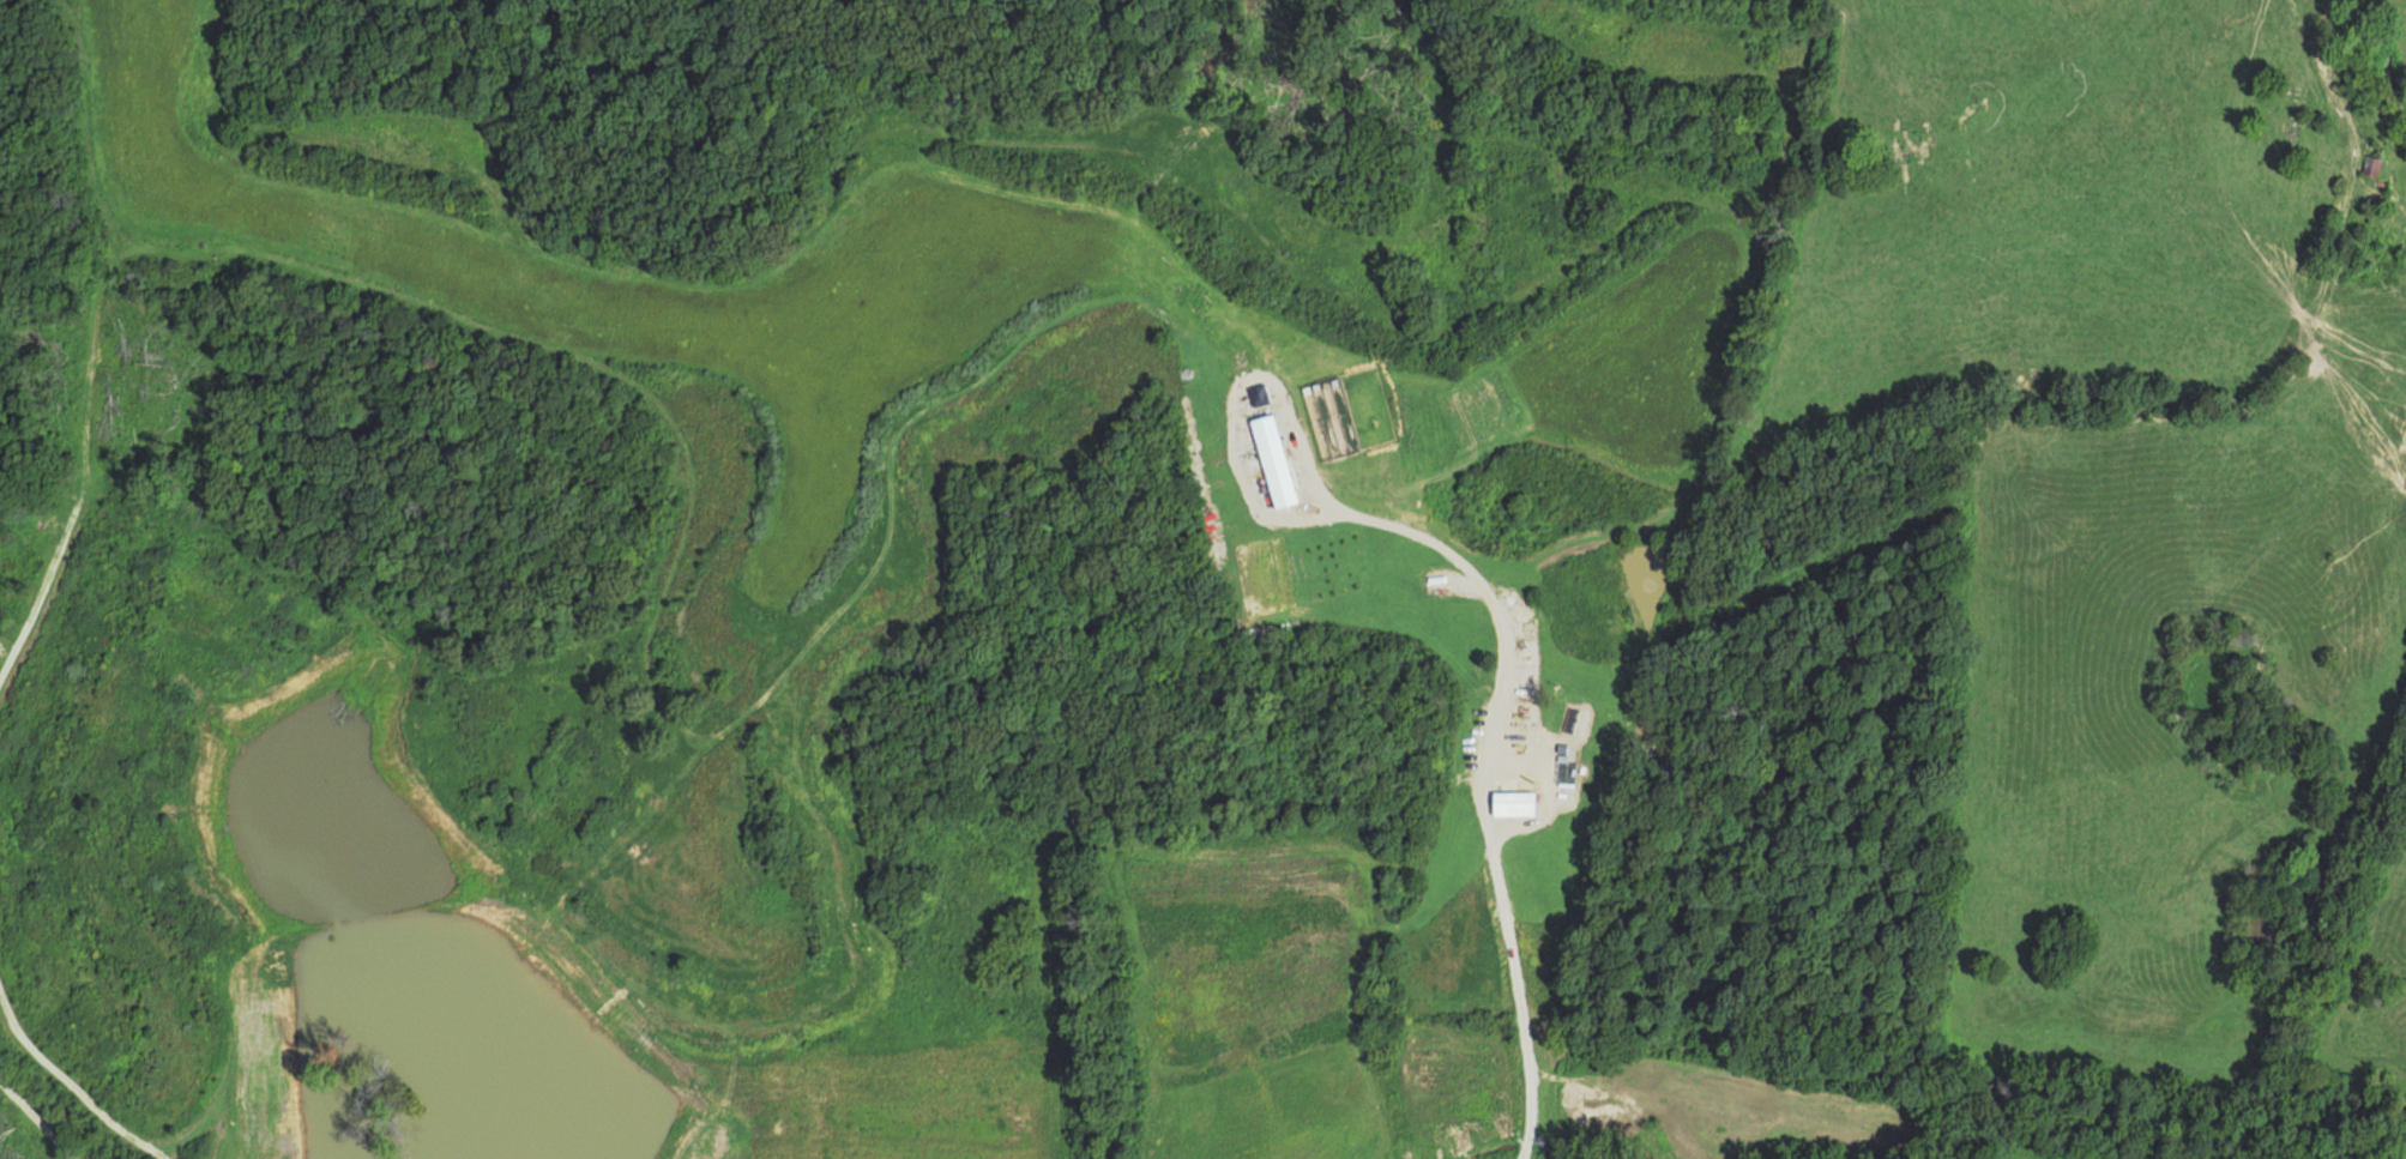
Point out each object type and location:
road: (1841, 453)
building: (1276, 476)
building: (1510, 802)

